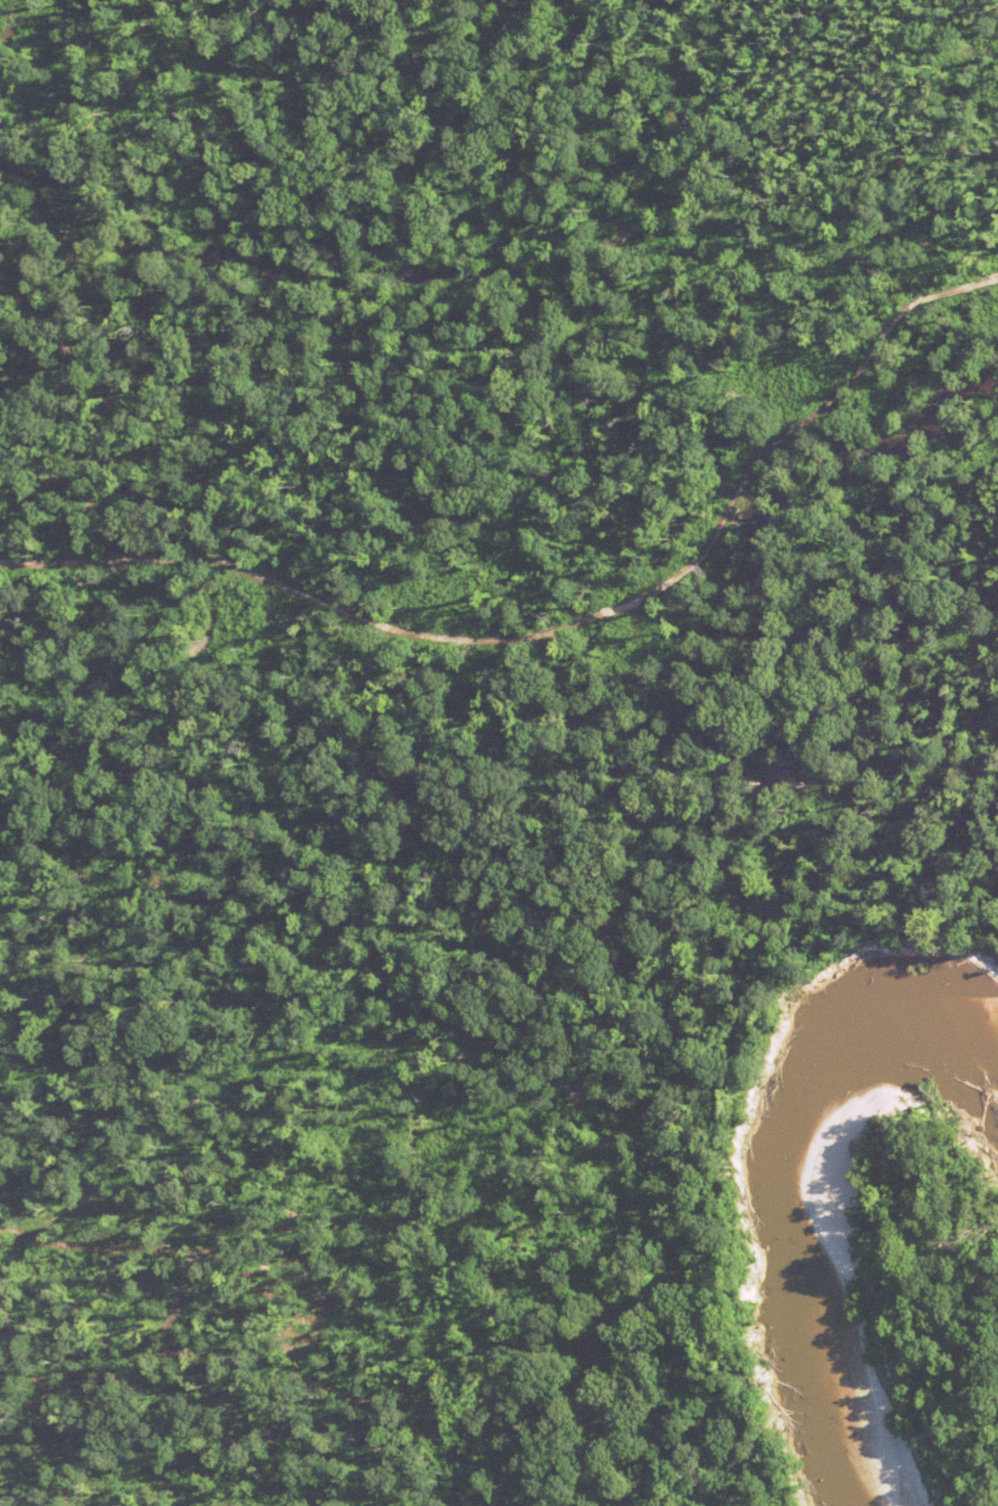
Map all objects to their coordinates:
river: (843, 1223)

